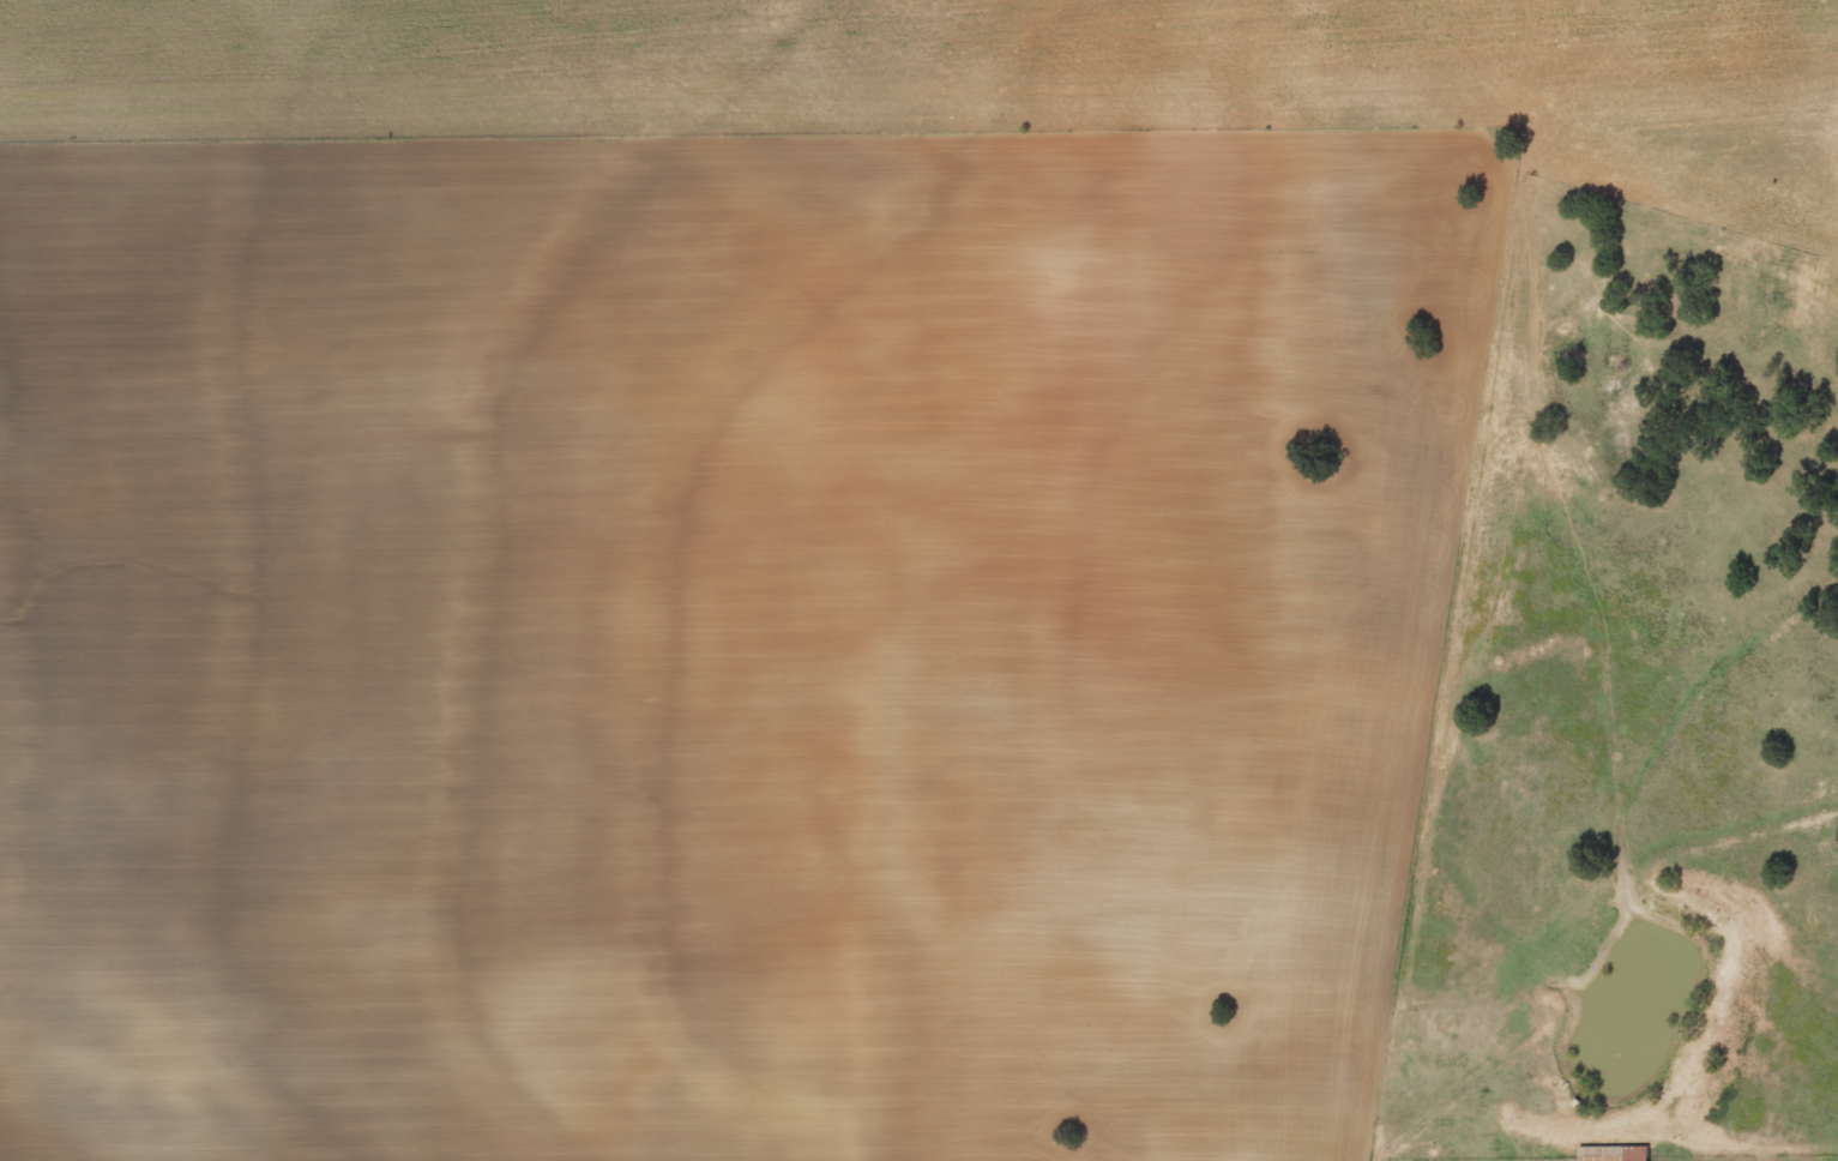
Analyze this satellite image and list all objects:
road: (1809, 890)
building: (1608, 1153)

